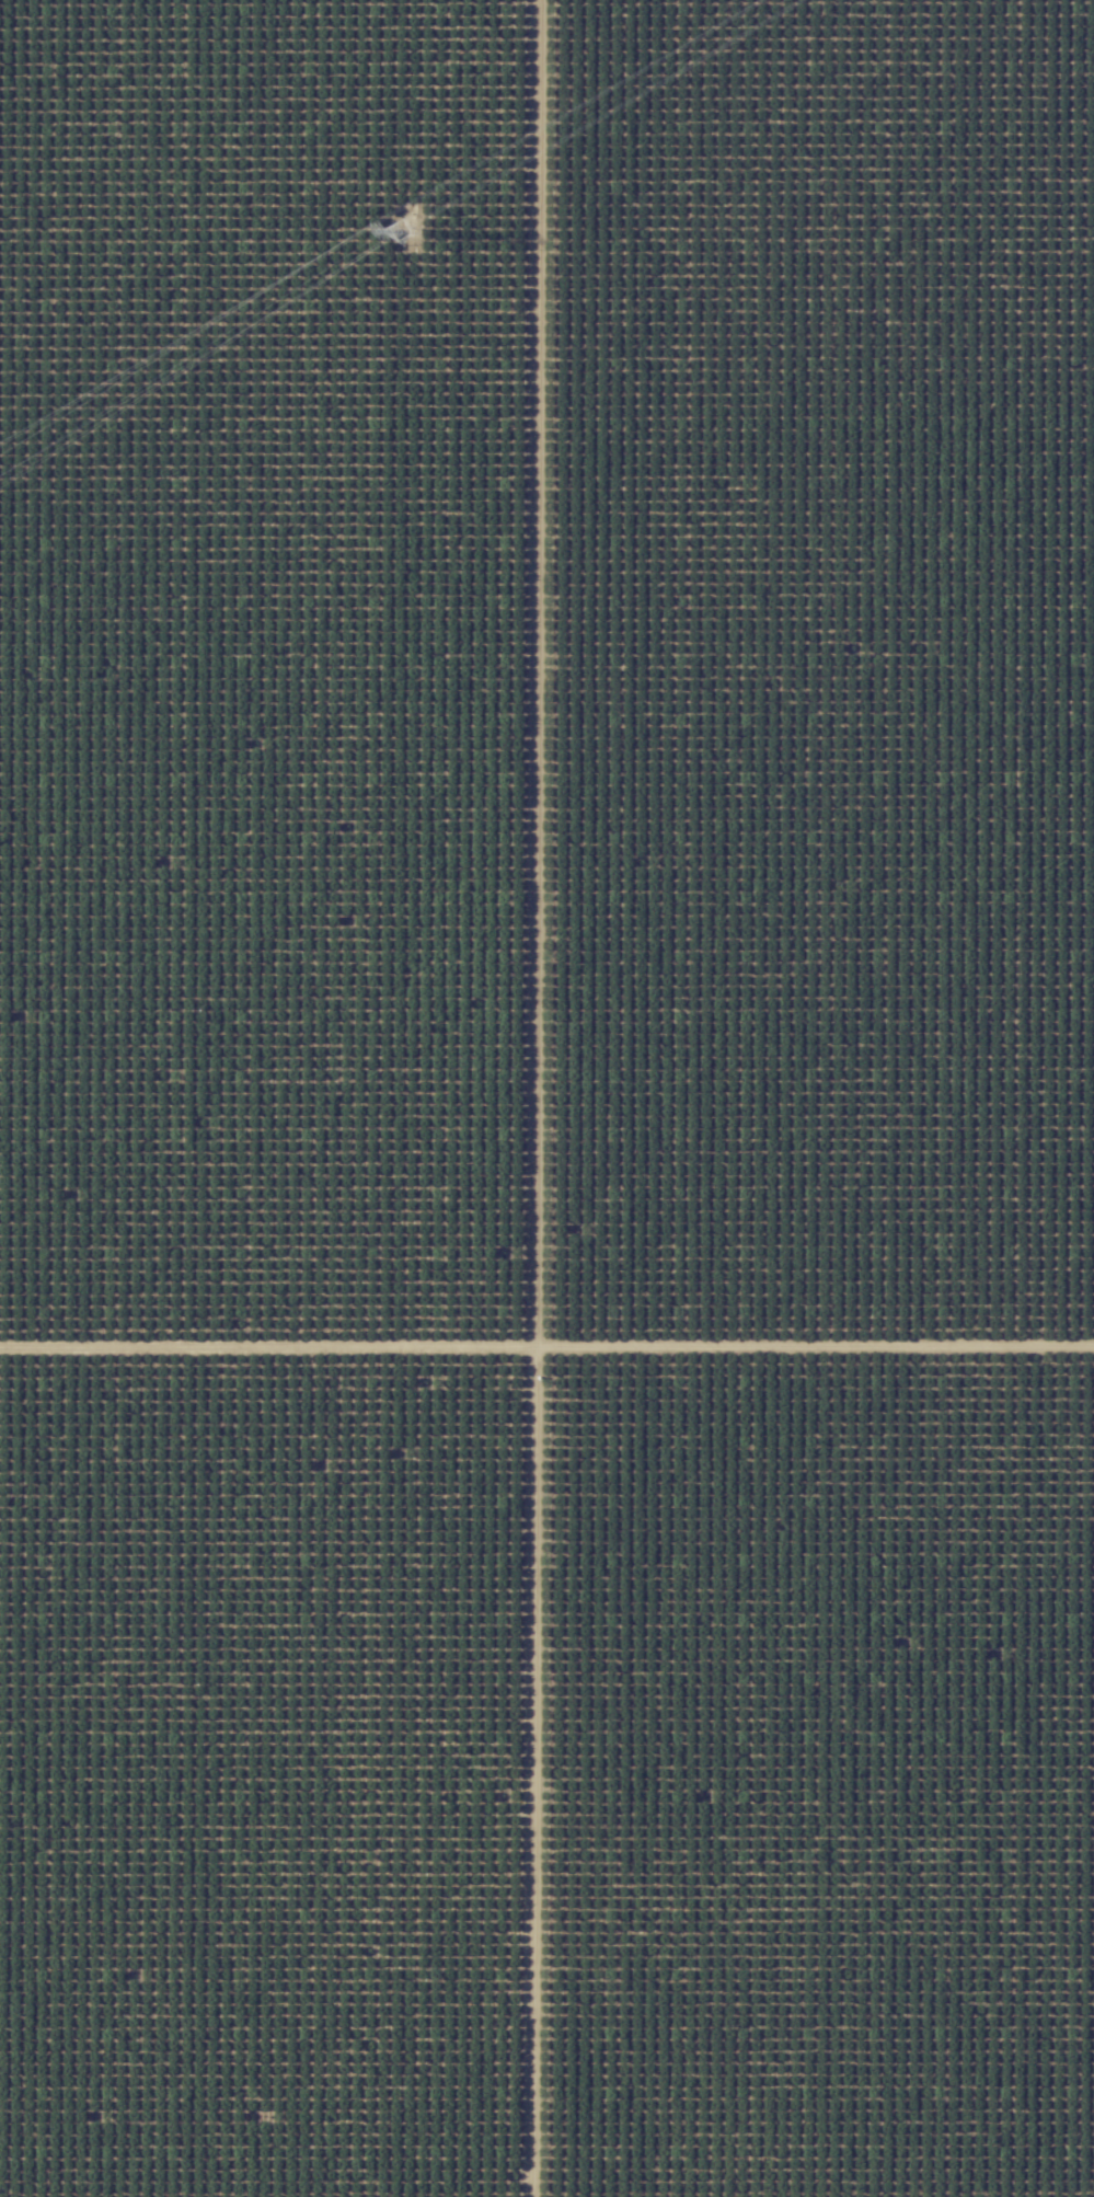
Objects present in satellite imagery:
power tower: (406, 231)
road: (532, 1098)

